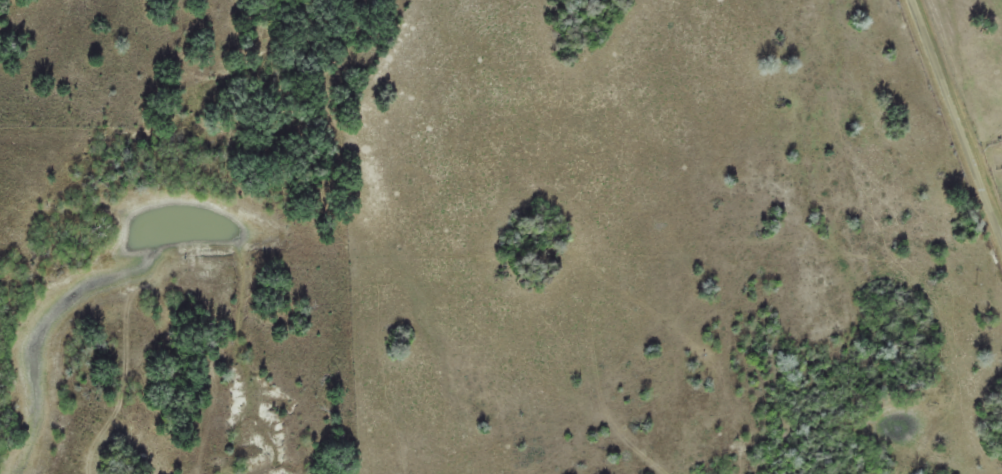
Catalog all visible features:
road: (961, 107)

